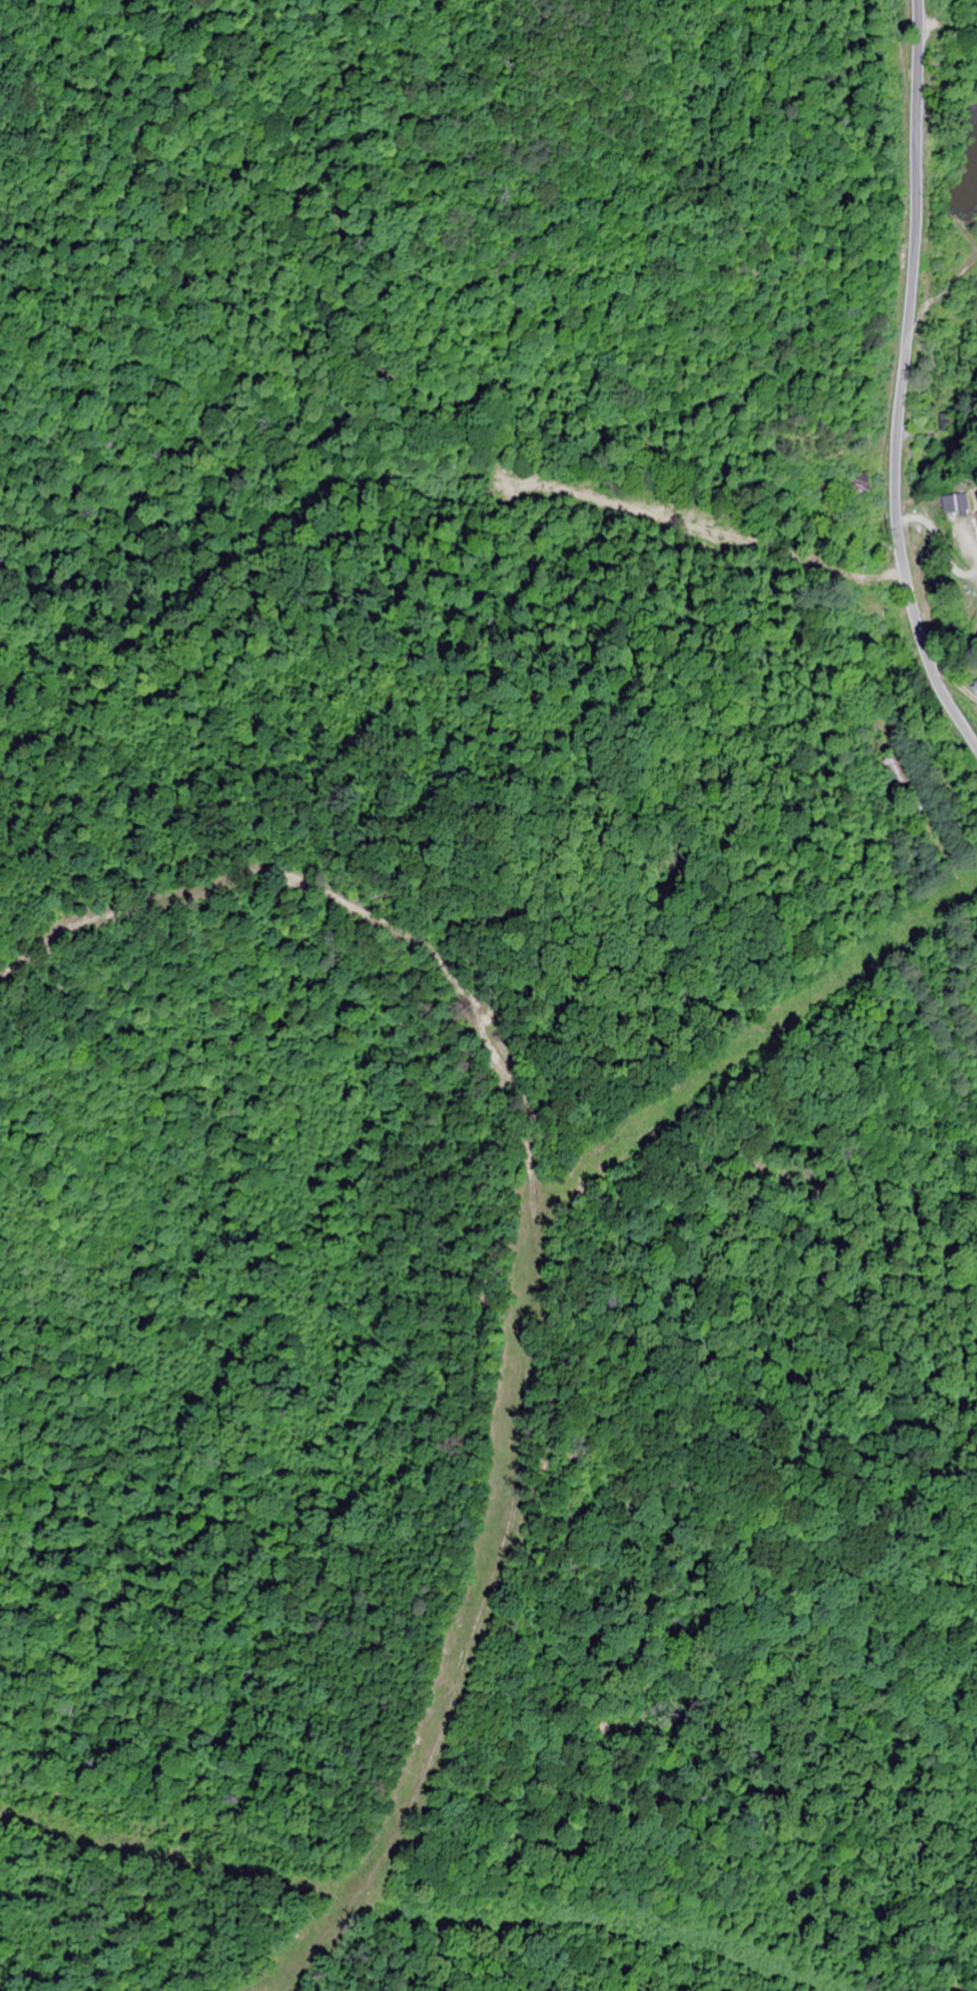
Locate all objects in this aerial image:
road: (904, 376)
building: (857, 485)
building: (951, 504)
building: (975, 689)

